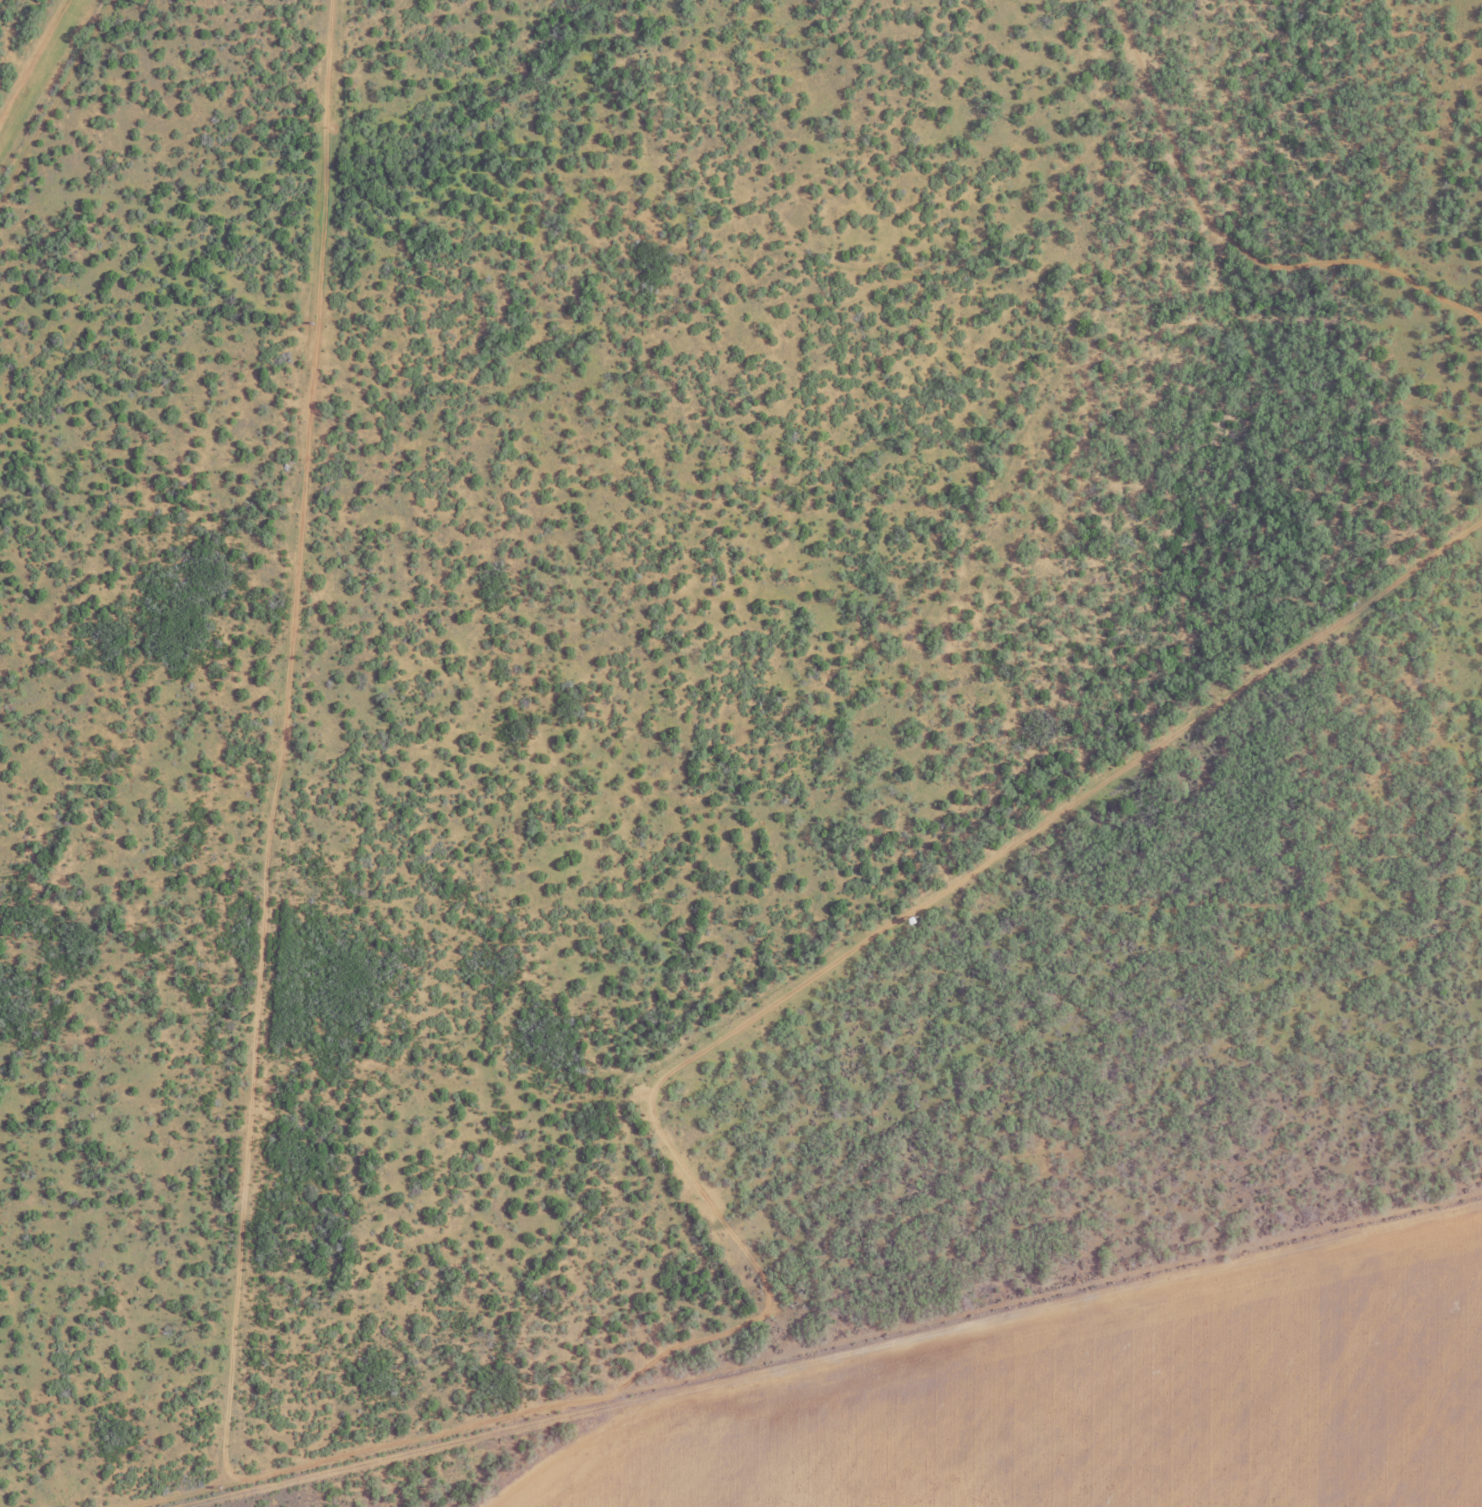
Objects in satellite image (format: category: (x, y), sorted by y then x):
road: (1231, 240)

